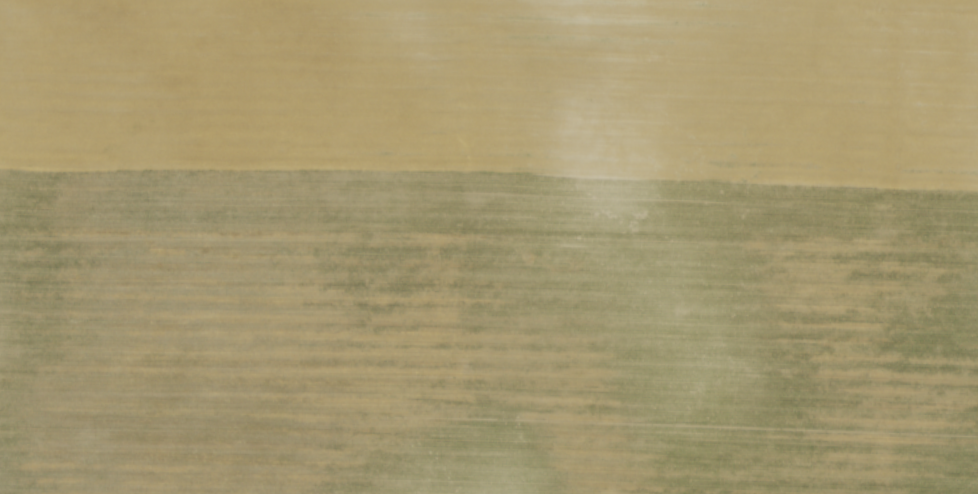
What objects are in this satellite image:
crop: (489, 247)

